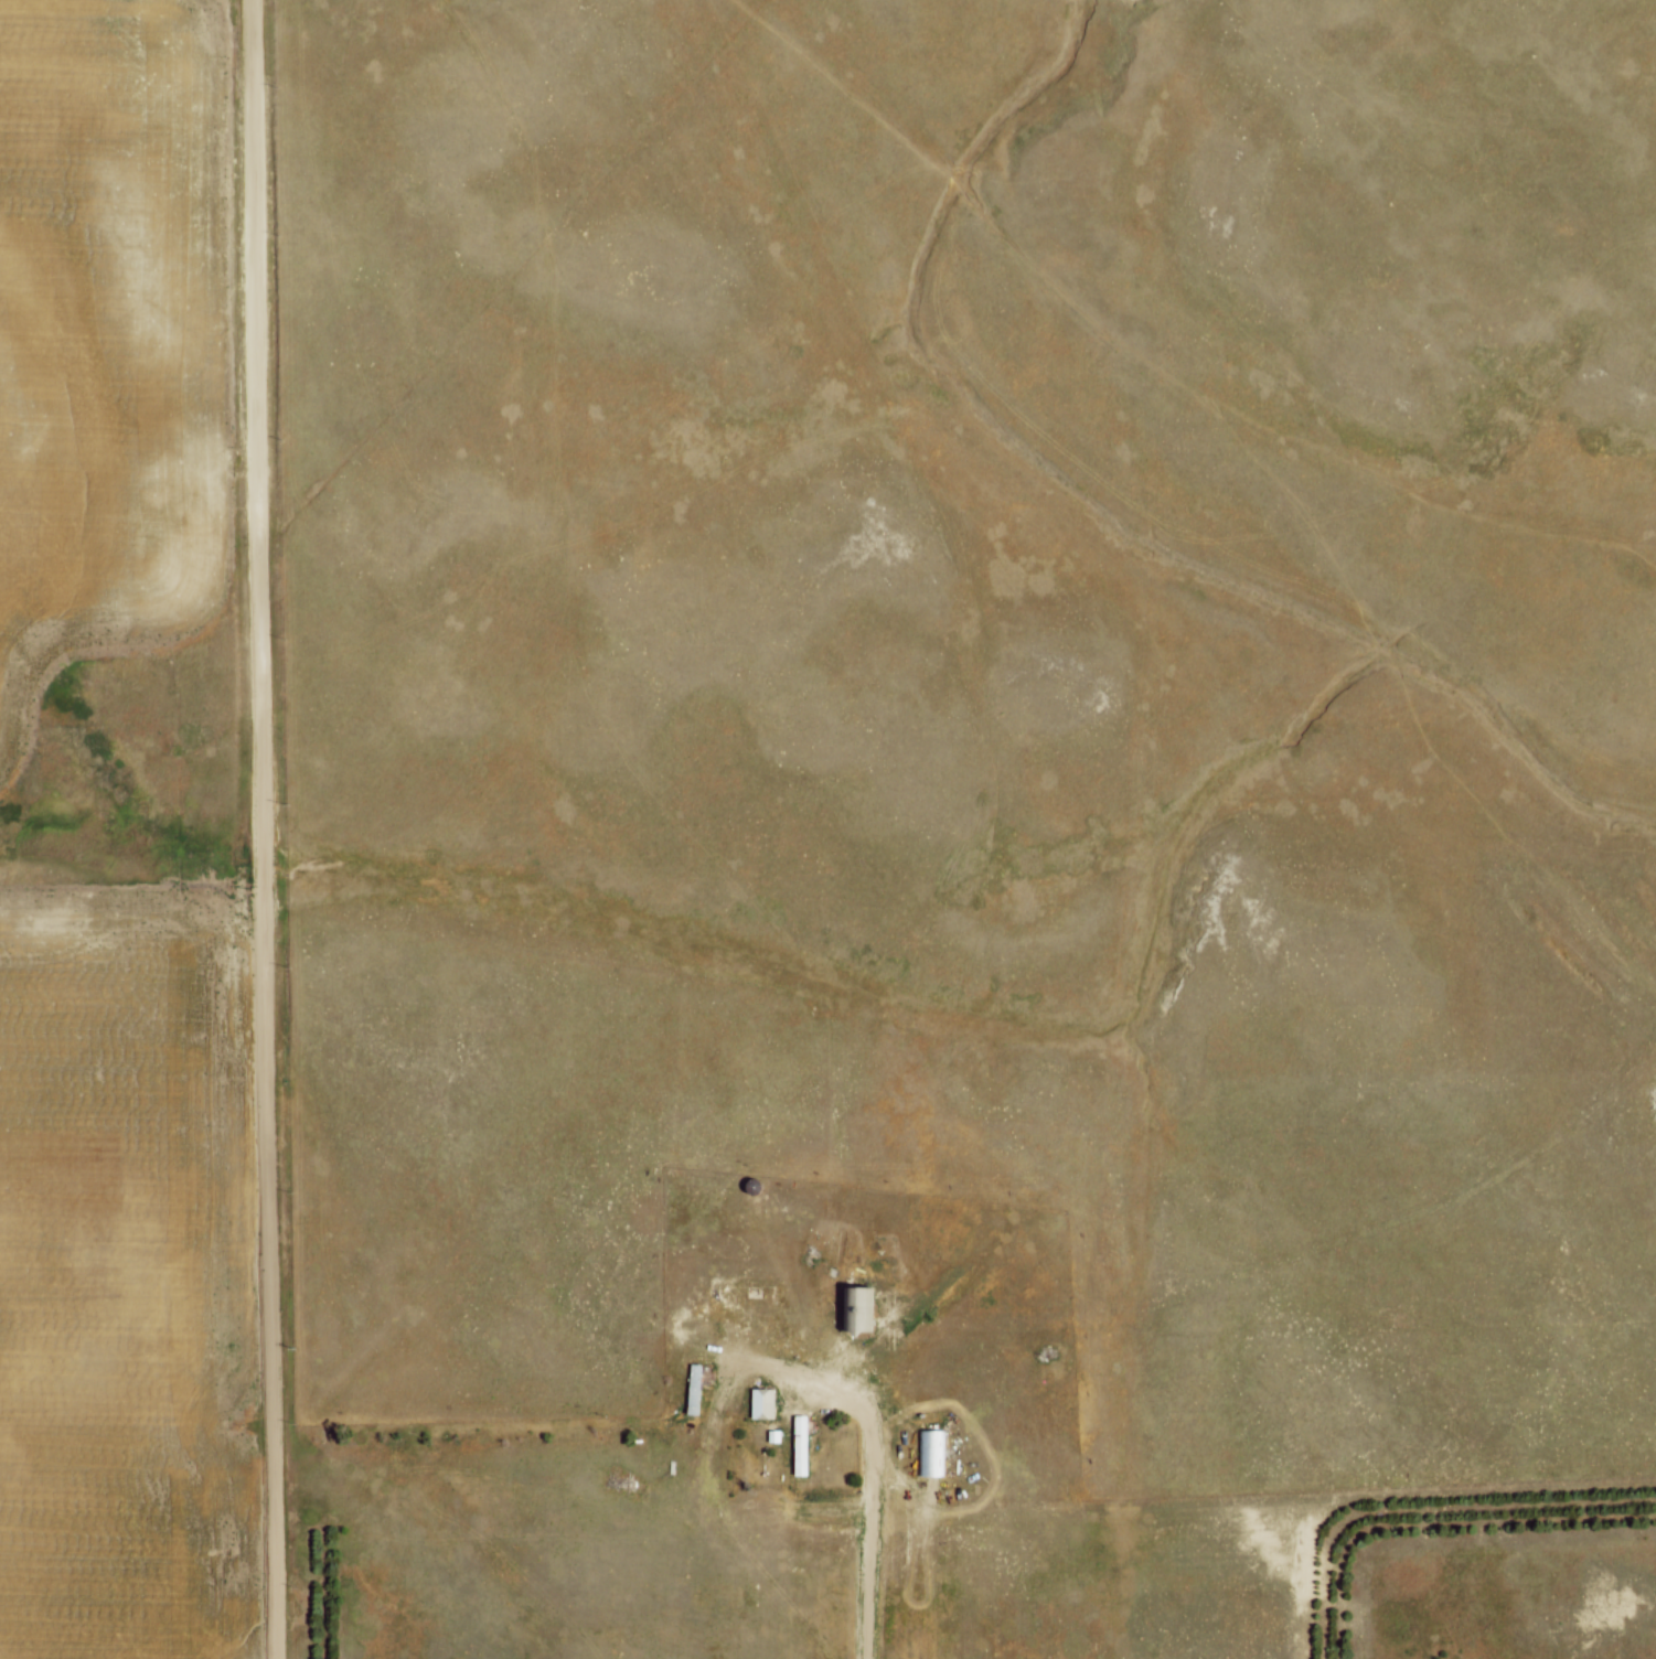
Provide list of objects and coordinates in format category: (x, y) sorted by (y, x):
crop: (108, 329)
road: (261, 830)
crop: (125, 1274)
building: (864, 1307)
road: (801, 1367)
building: (697, 1388)
building: (767, 1402)
building: (805, 1445)
building: (934, 1452)
road: (868, 1530)

